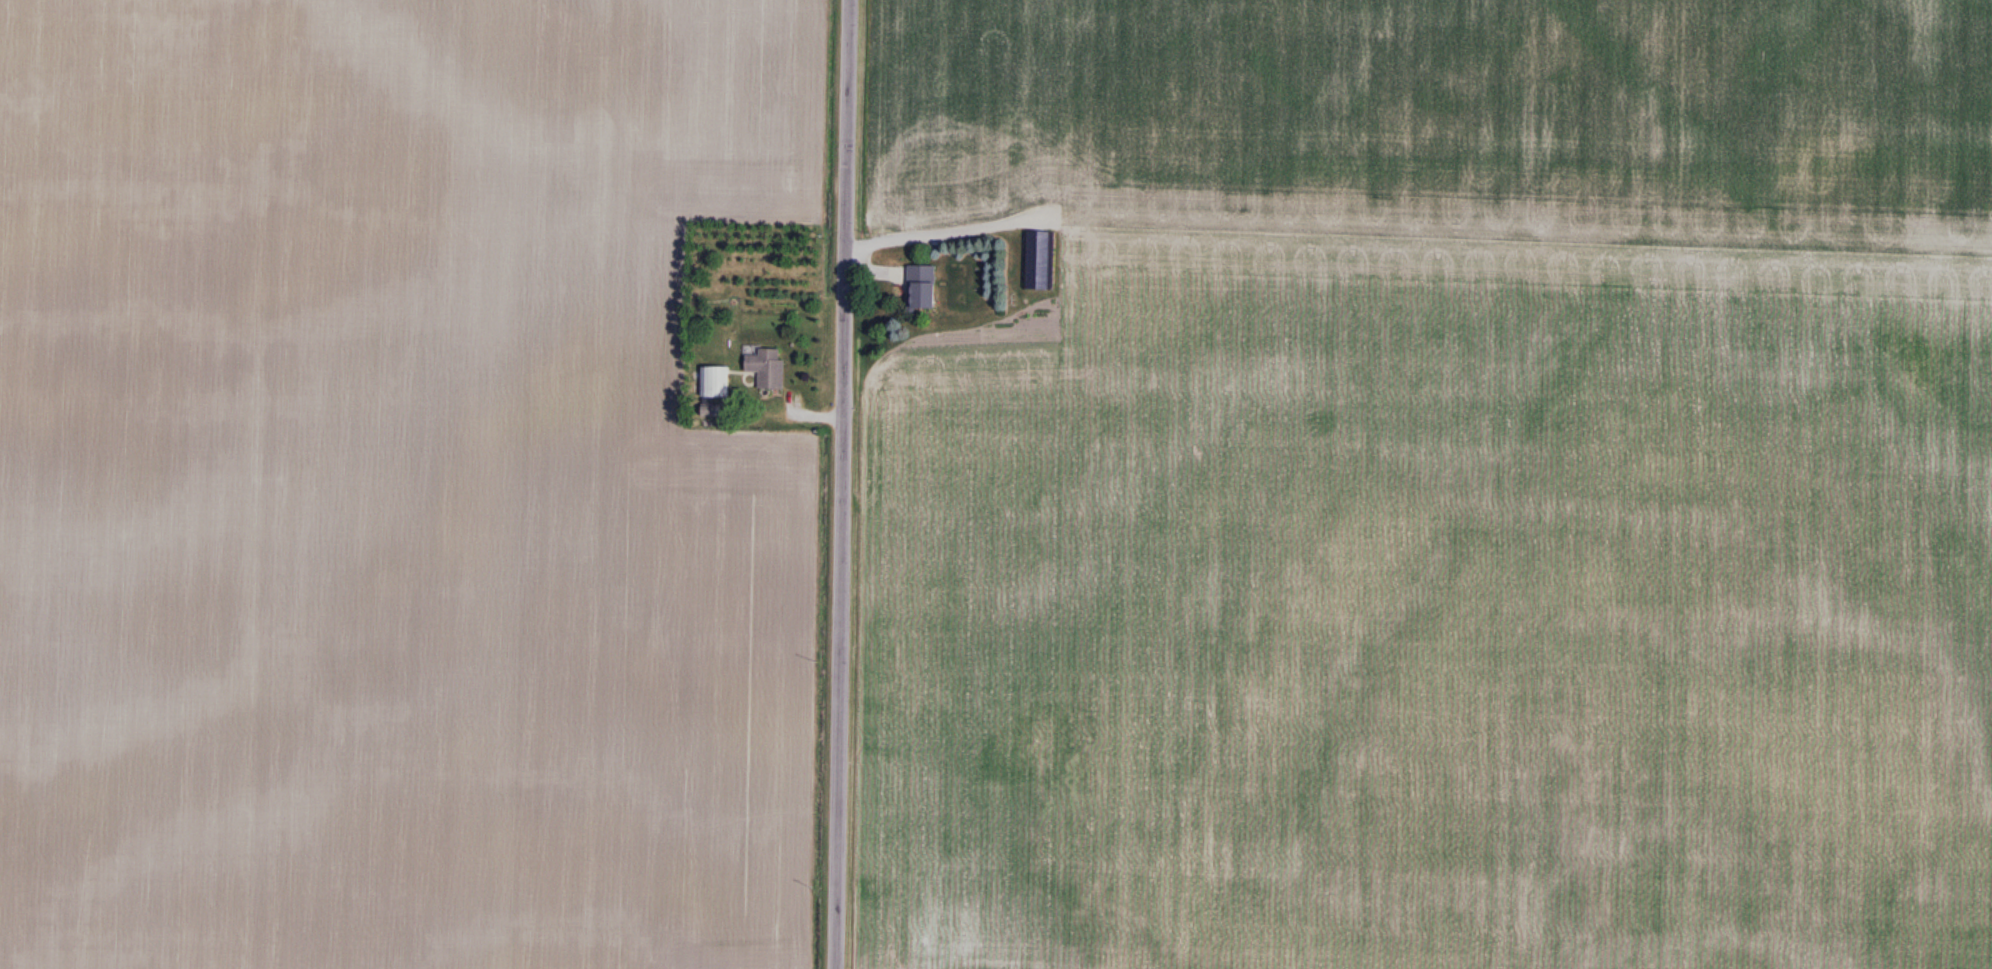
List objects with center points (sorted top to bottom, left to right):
road: (941, 225)
building: (1040, 261)
building: (922, 288)
building: (768, 368)
building: (716, 382)
road: (842, 484)

